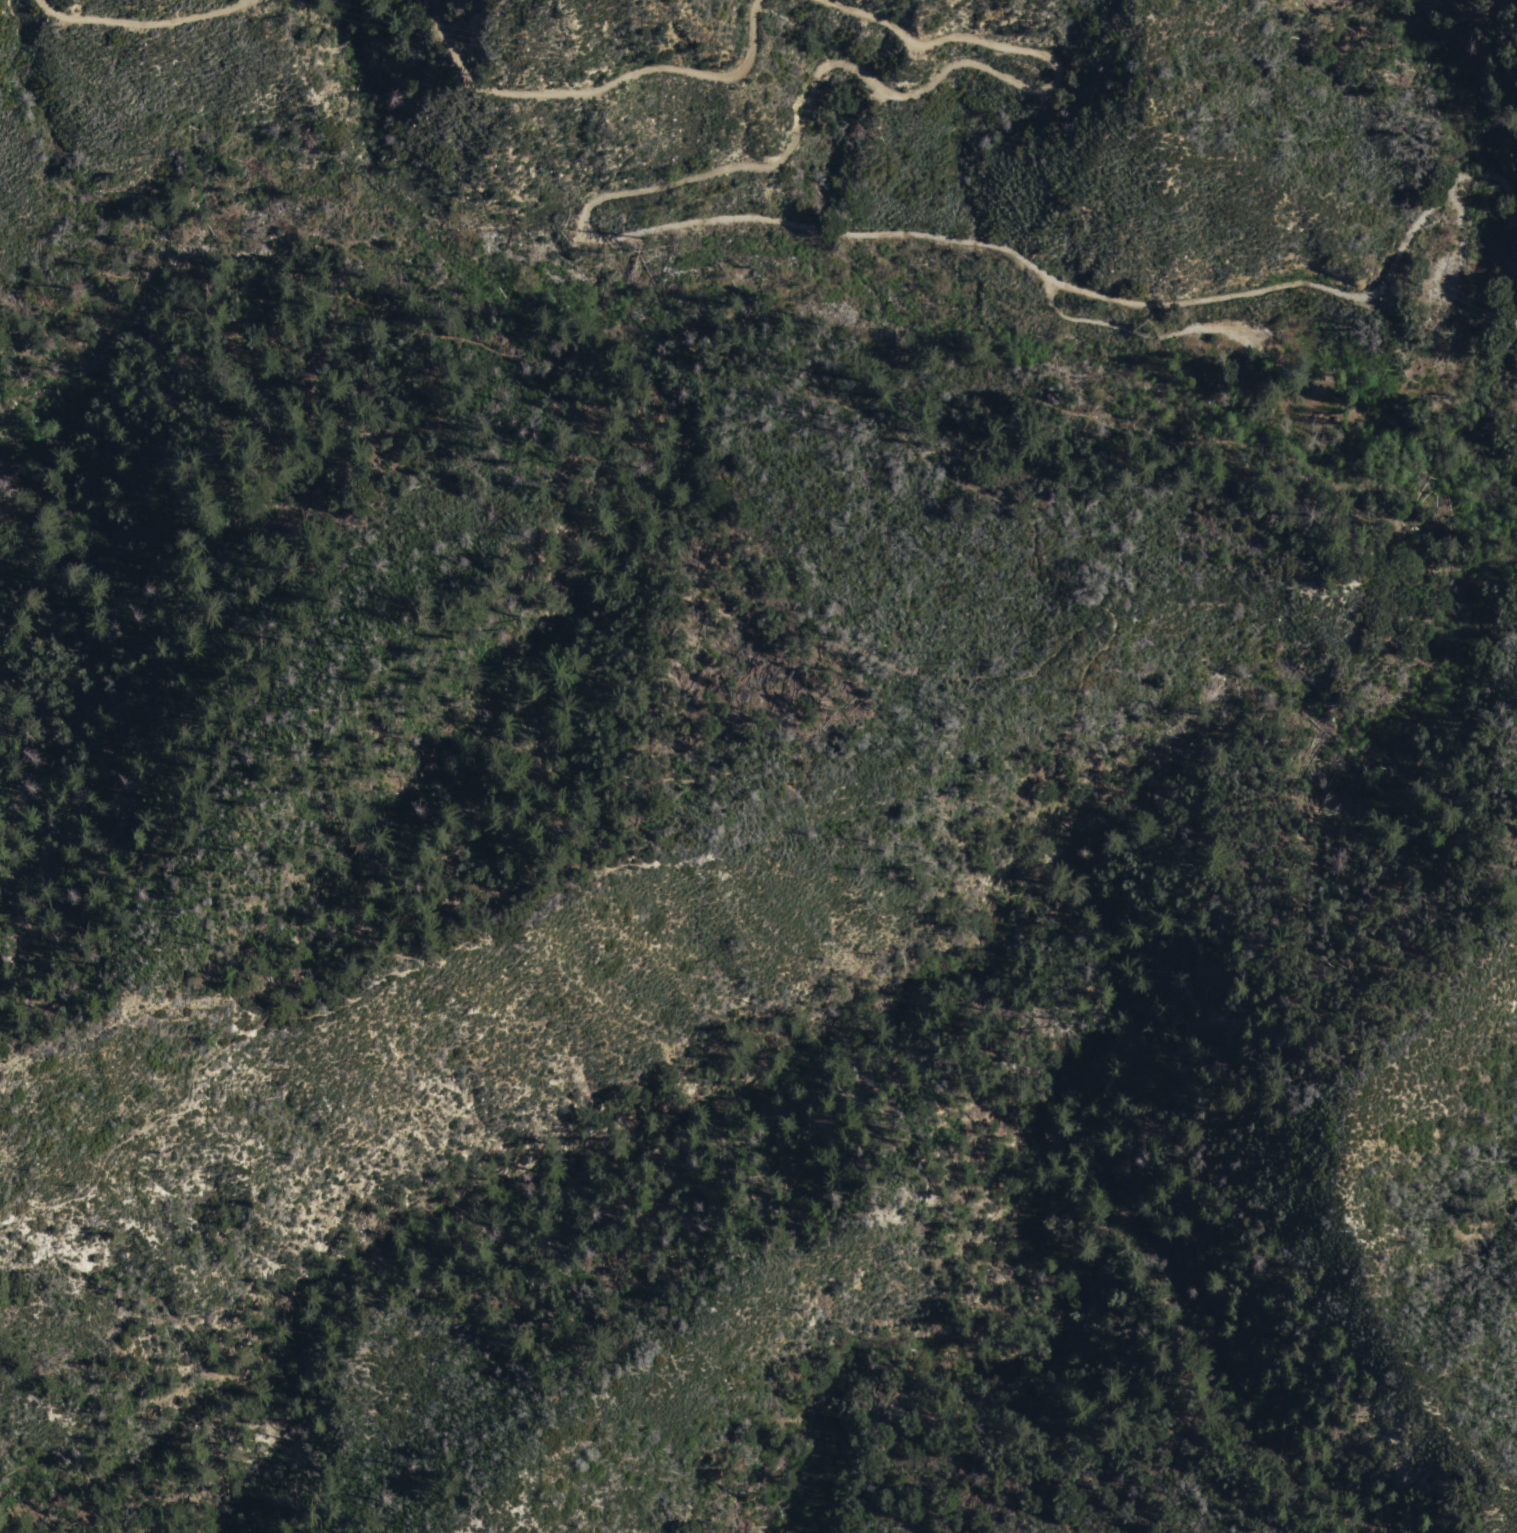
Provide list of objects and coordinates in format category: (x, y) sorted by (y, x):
road: (147, 25)
road: (604, 91)
road: (666, 231)
road: (1457, 267)
road: (1189, 331)
road: (1424, 367)
road: (1095, 419)
road: (1014, 504)
road: (442, 843)

